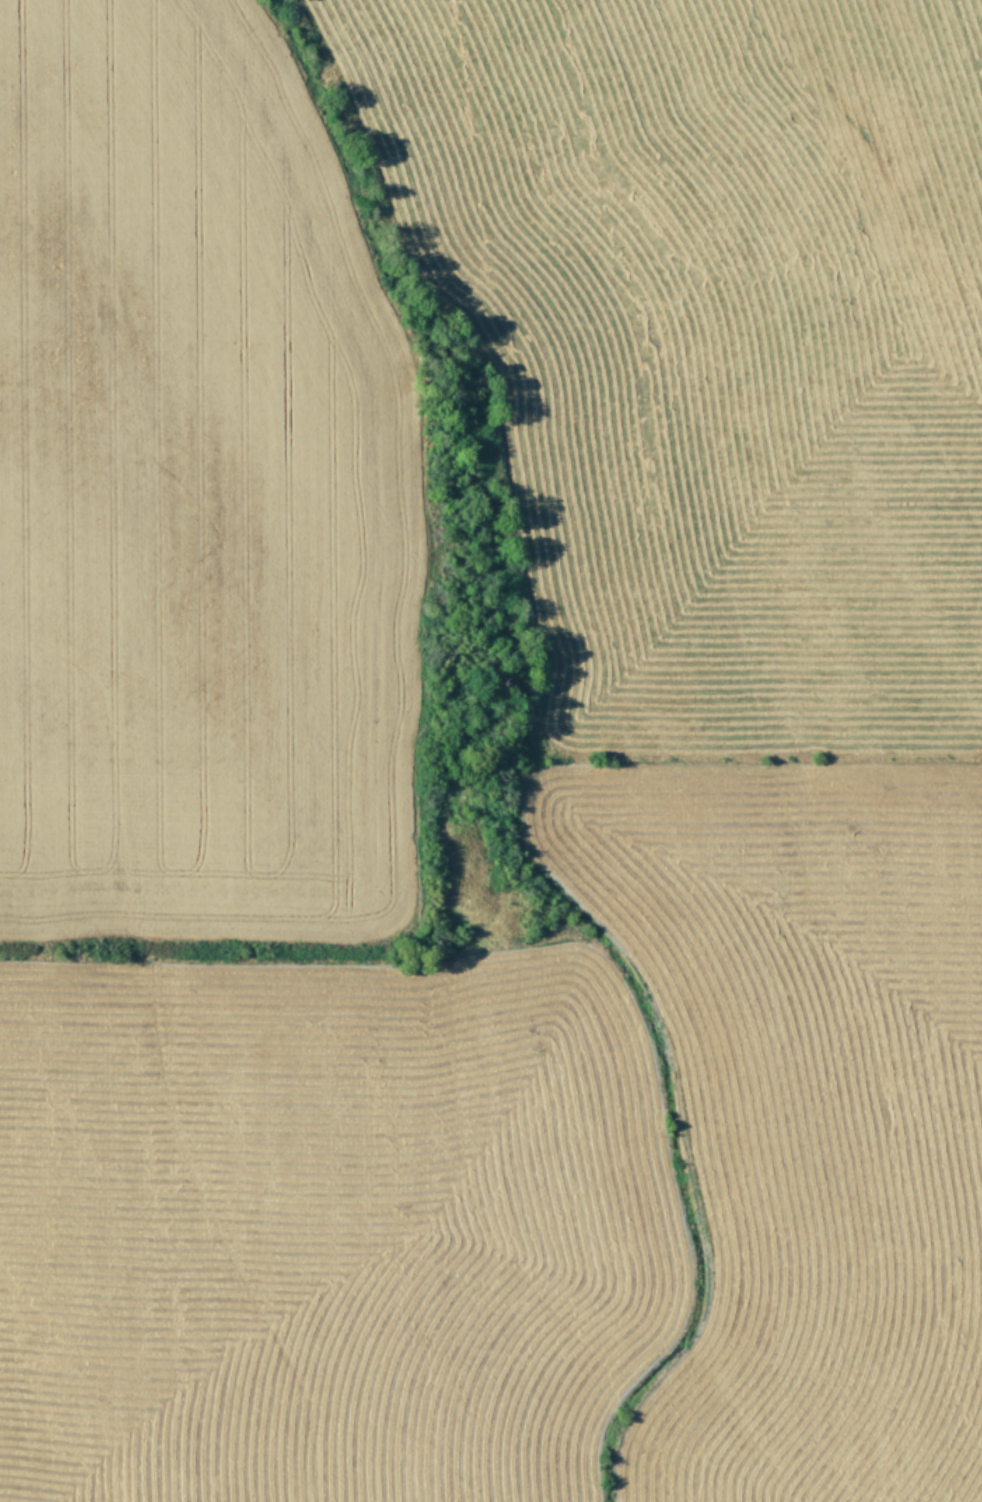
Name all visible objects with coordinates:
crop: (491, 751)

